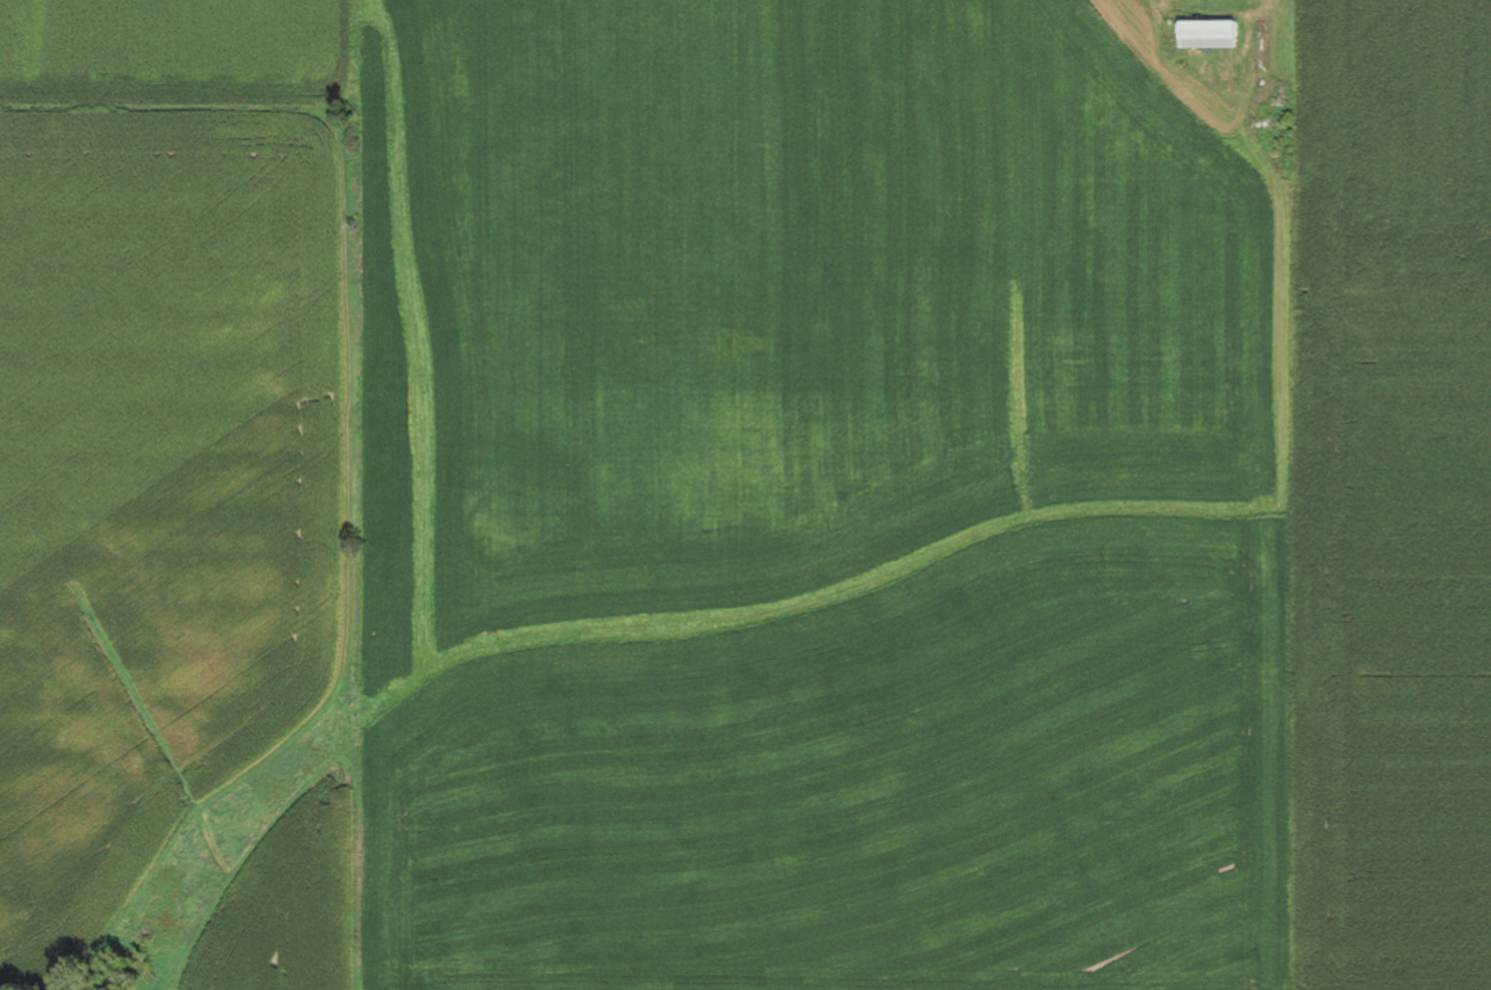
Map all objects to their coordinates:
building: (1205, 36)

